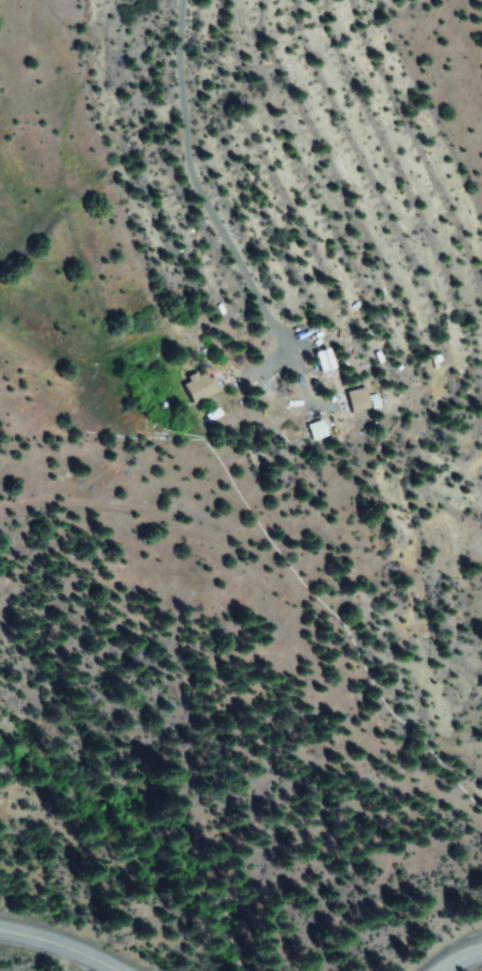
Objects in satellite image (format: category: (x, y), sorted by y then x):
building: (200, 385)
building: (360, 402)
building: (316, 430)
road: (59, 945)
road: (461, 960)

